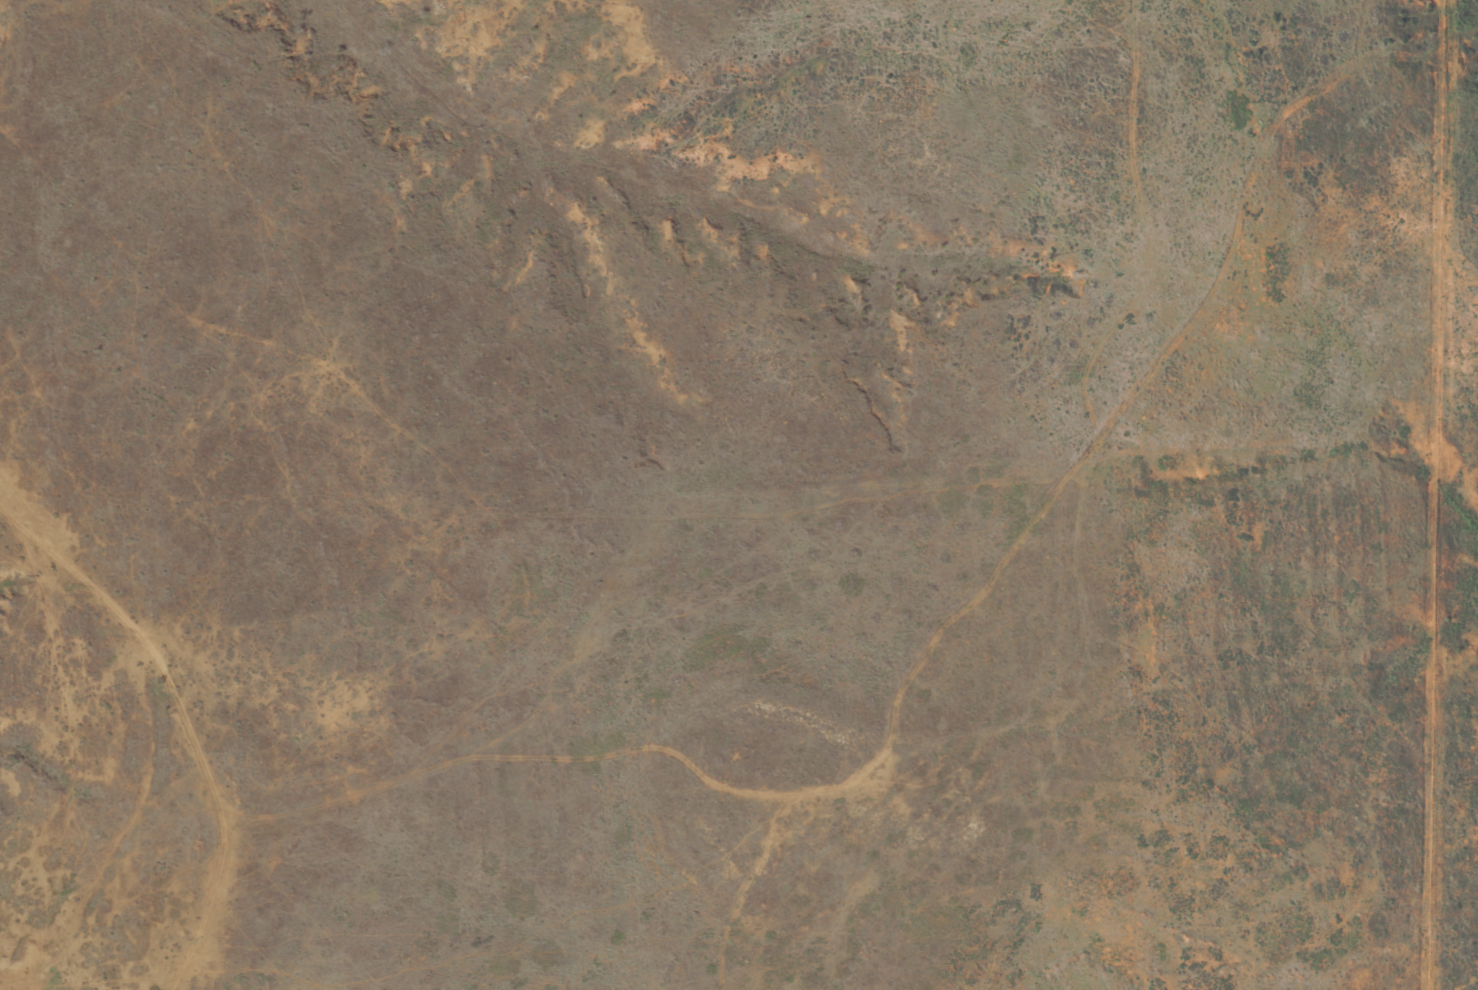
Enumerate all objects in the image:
road: (1090, 498)

